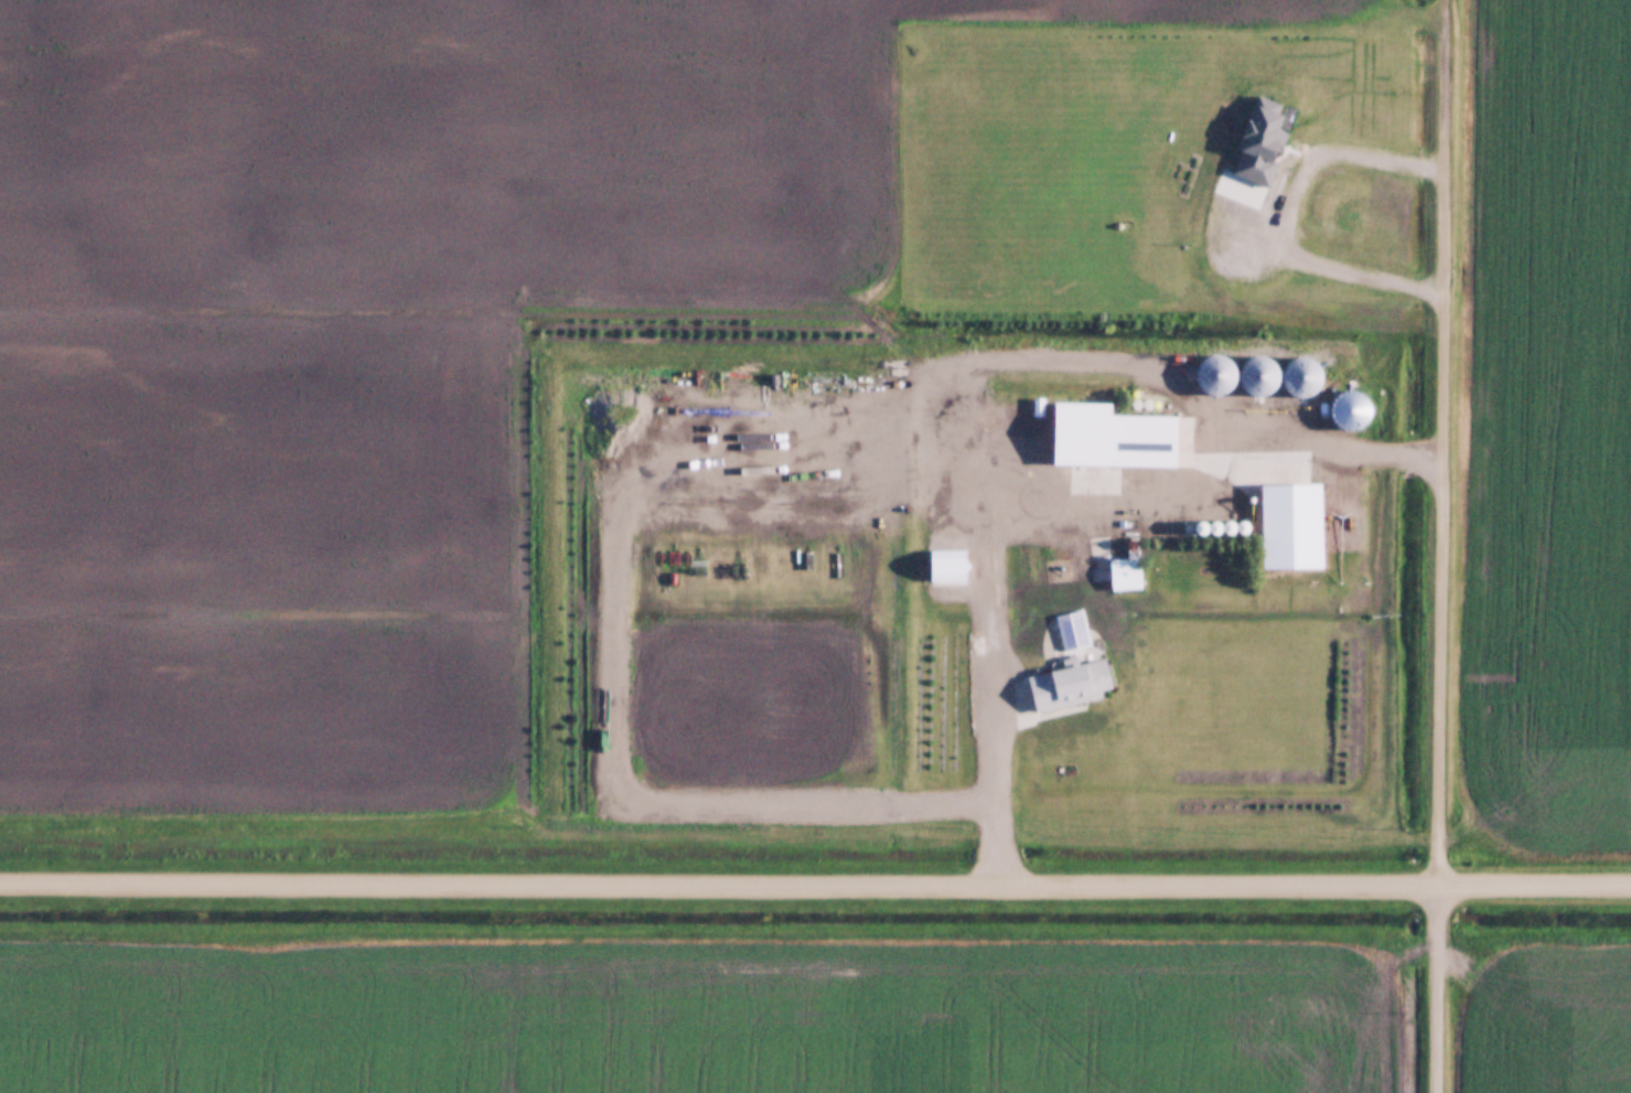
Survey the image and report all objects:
road: (1445, 81)
road: (1292, 211)
road: (1040, 485)
road: (1445, 519)
building: (1060, 682)
road: (815, 881)
road: (1435, 984)

